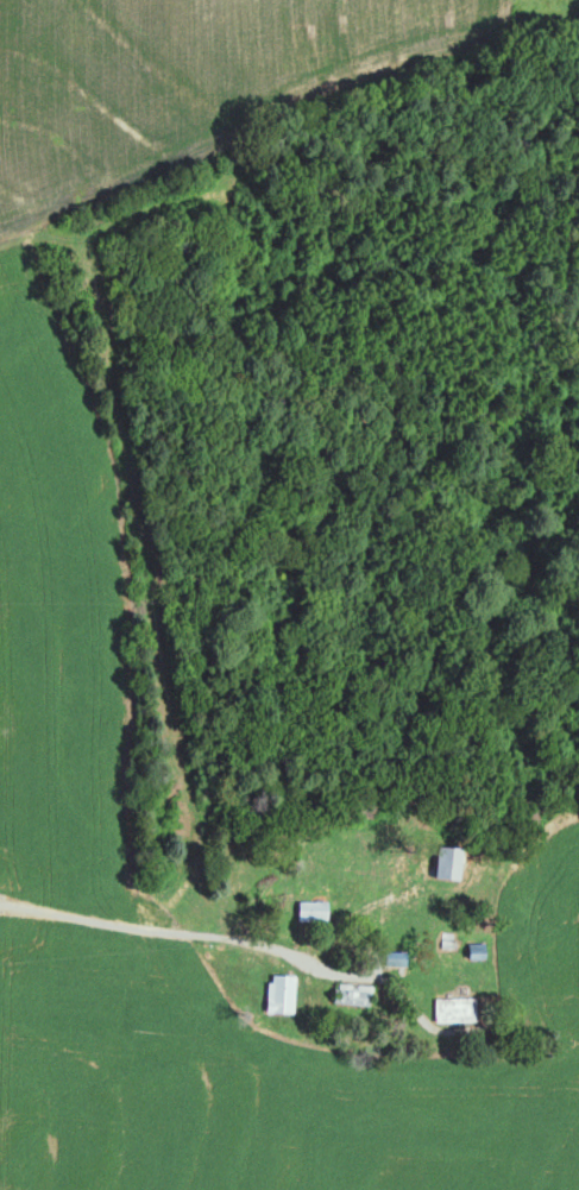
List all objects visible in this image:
building: (442, 864)
building: (309, 912)
building: (390, 959)
building: (276, 994)
building: (347, 994)
building: (453, 1009)

